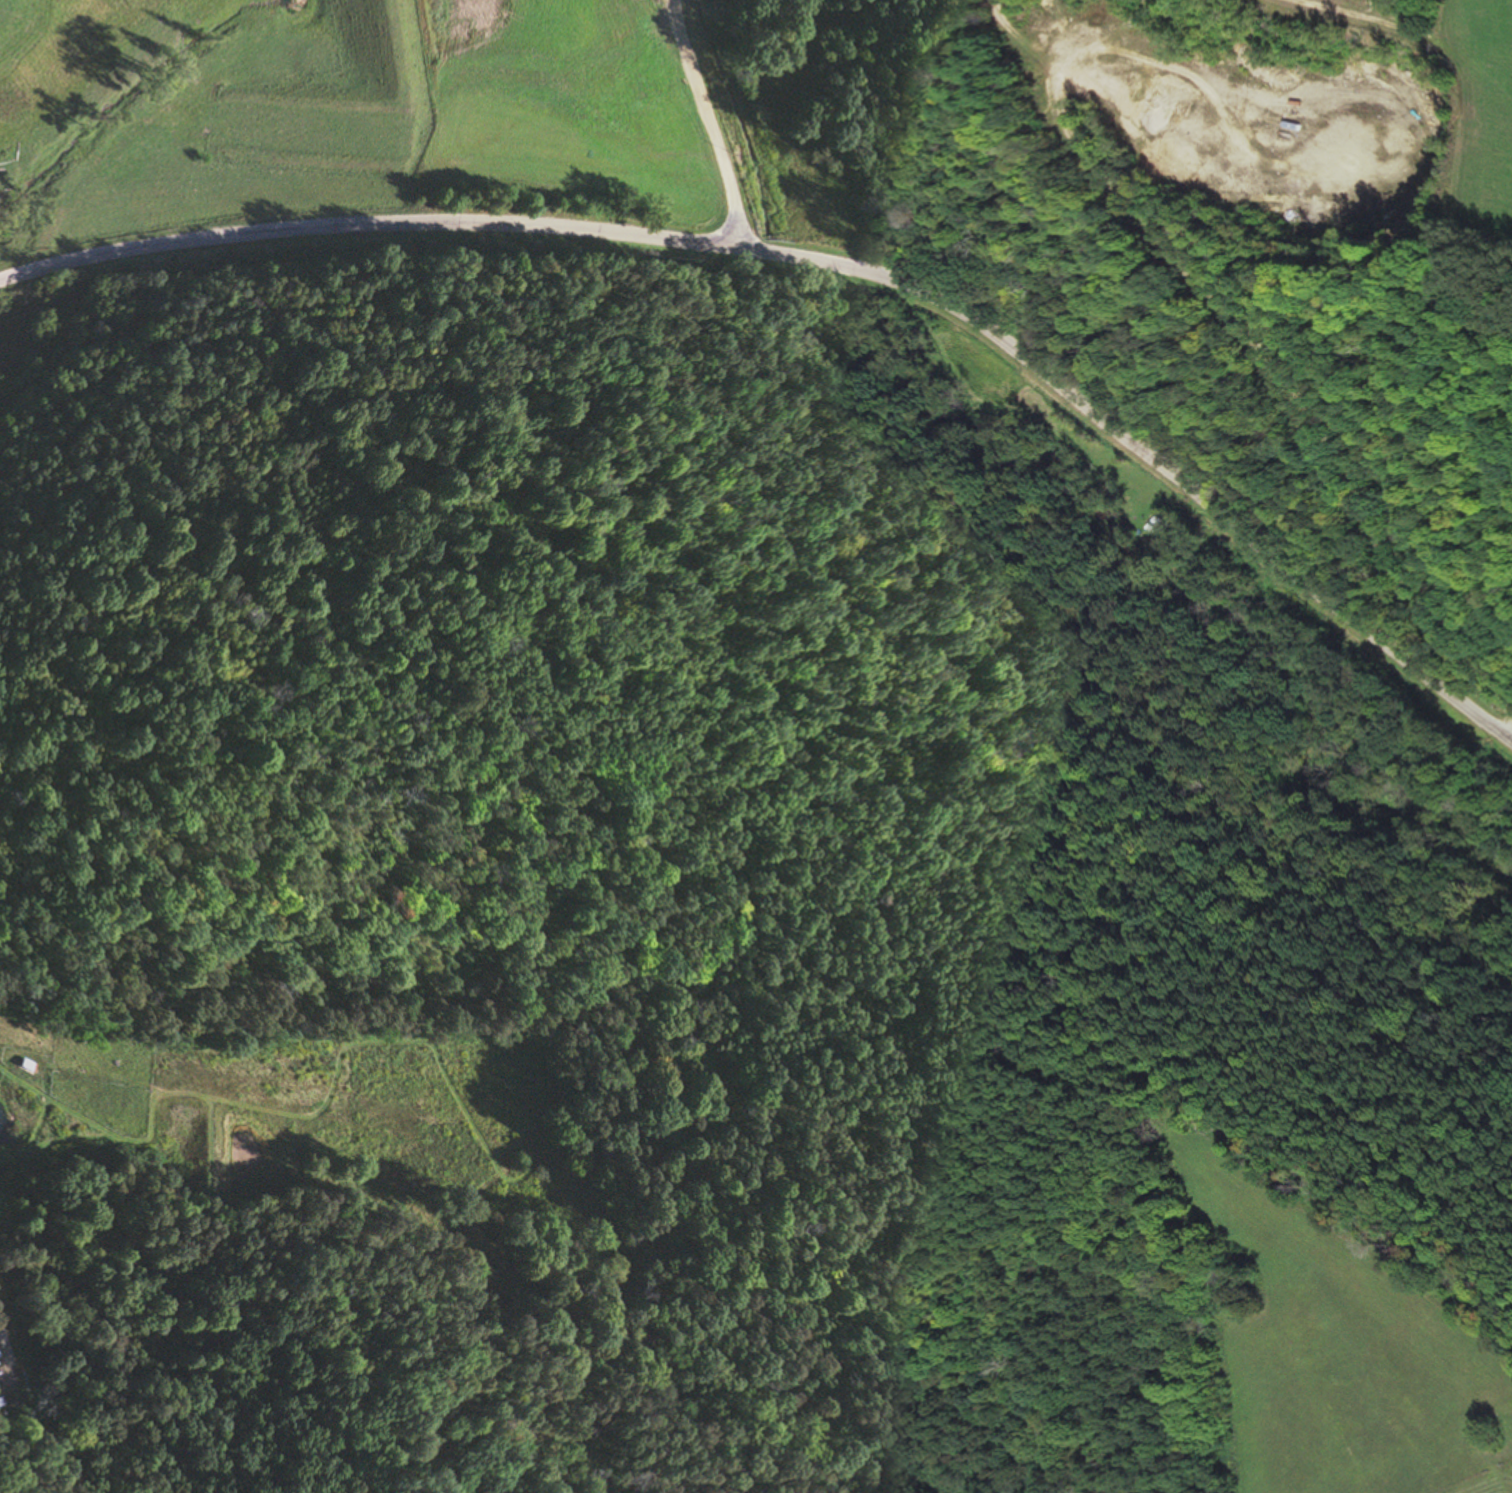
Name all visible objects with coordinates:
road: (709, 122)
road: (828, 262)

